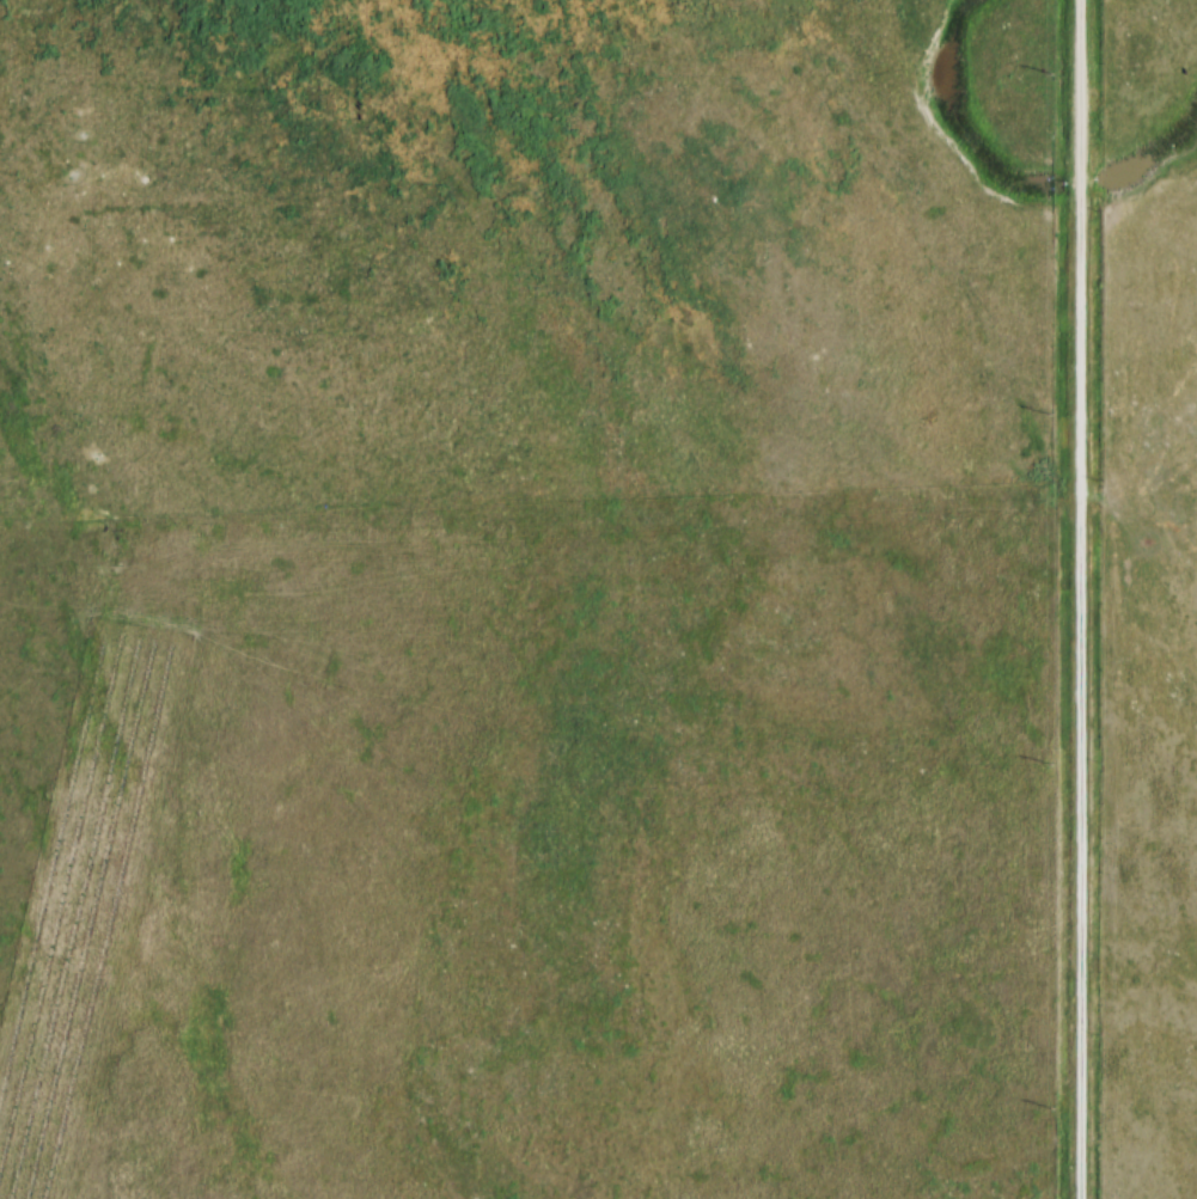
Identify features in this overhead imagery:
road: (1082, 599)

